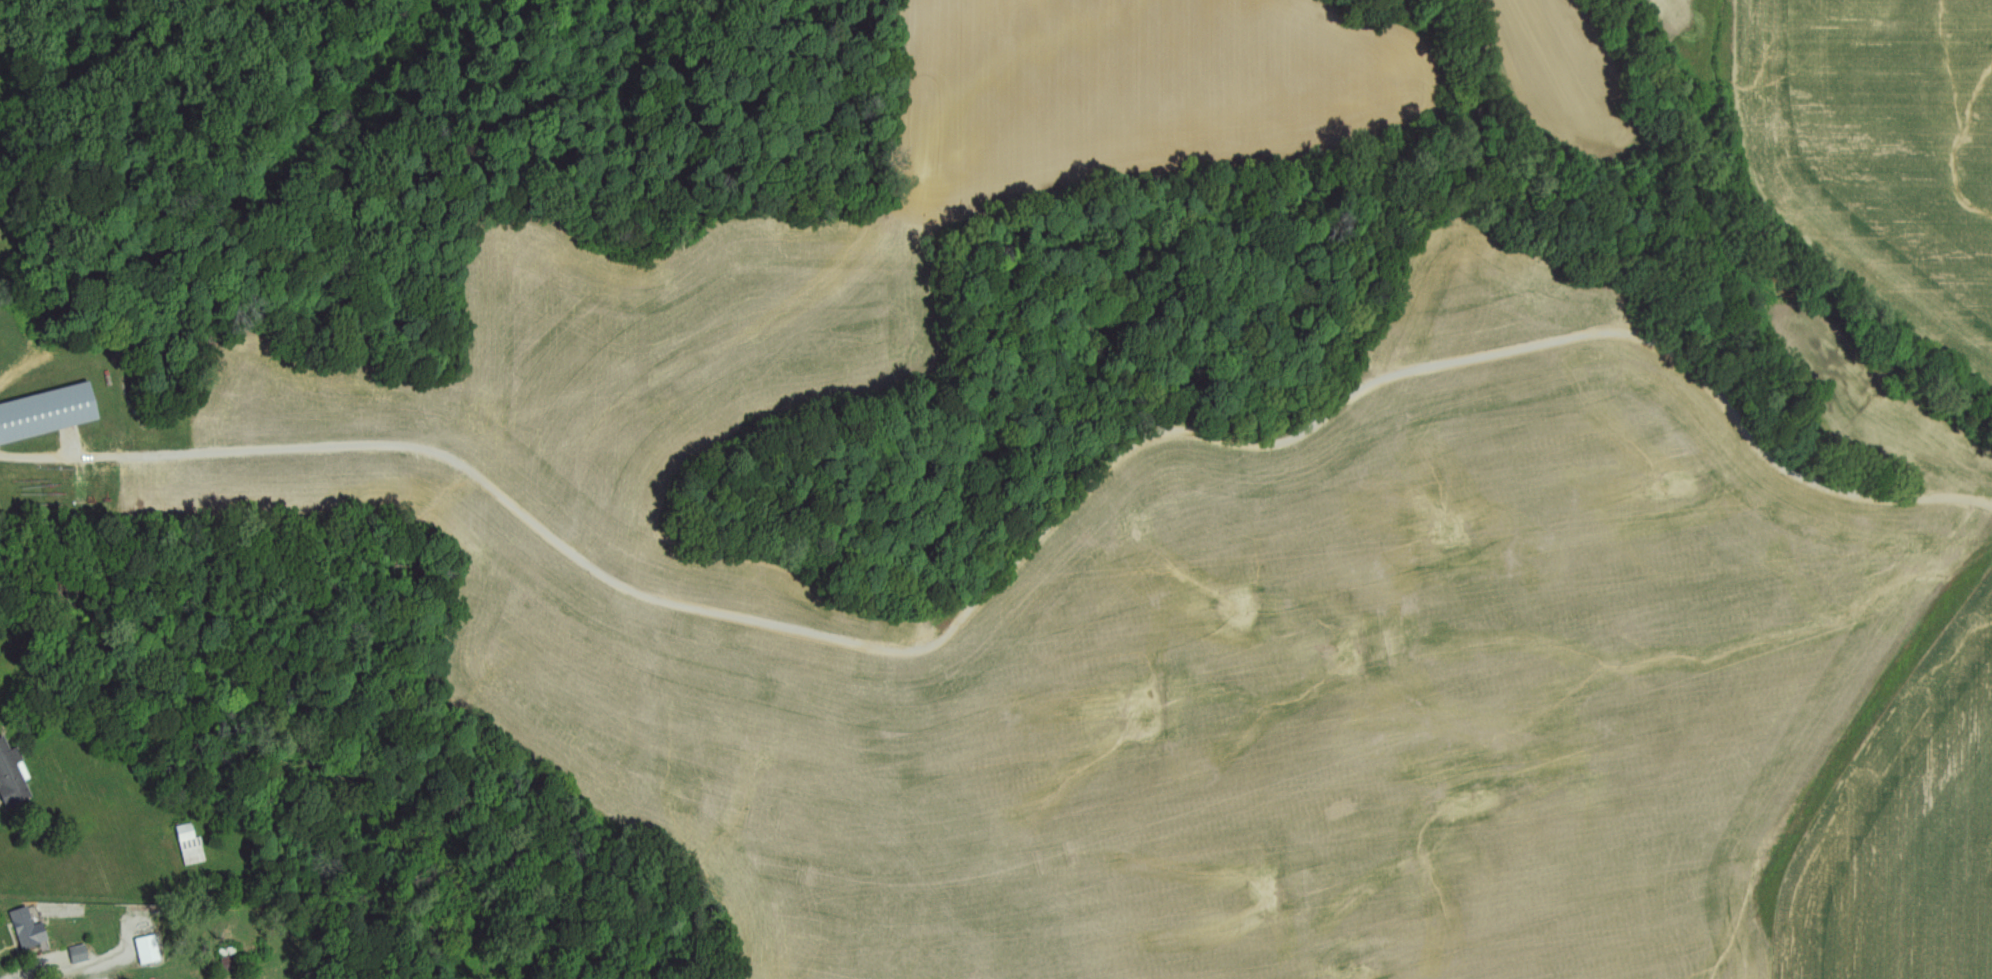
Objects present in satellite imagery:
road: (187, 214)
building: (49, 414)
road: (1019, 554)
building: (14, 774)
building: (193, 843)
building: (31, 928)
building: (151, 949)
building: (82, 953)
building: (232, 964)

